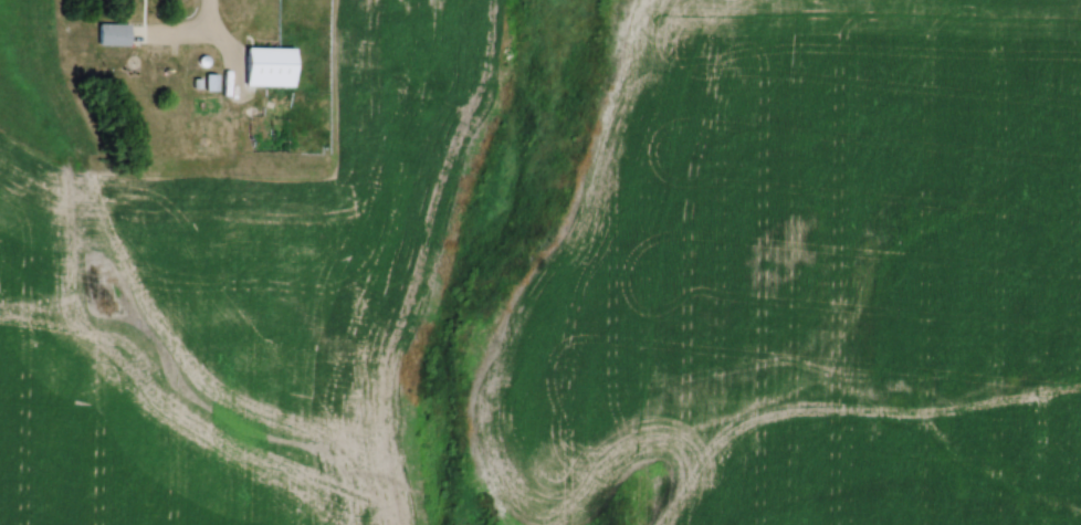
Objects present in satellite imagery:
building: (112, 32)
road: (186, 40)
building: (269, 63)

